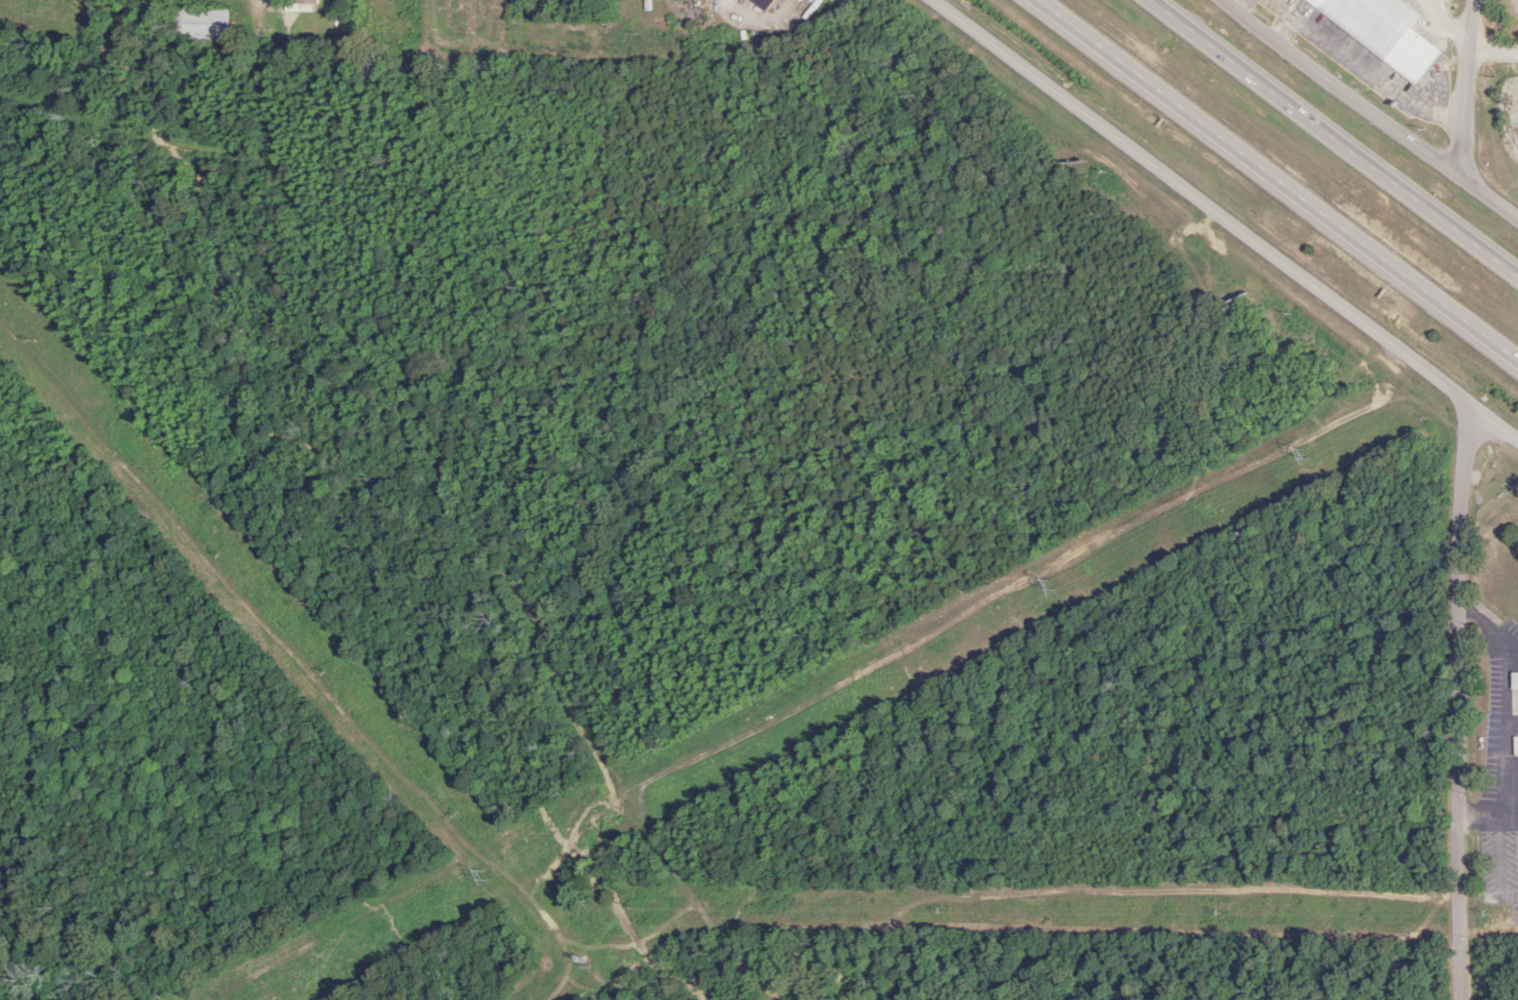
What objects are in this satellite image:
building: (305, 2)
building: (760, 3)
road: (763, 14)
building: (199, 23)
road: (1470, 28)
building: (1383, 32)
road: (1493, 57)
road: (1343, 97)
road: (1466, 123)
road: (1332, 141)
road: (1276, 183)
road: (1496, 206)
road: (1223, 222)
road: (472, 518)
building: (1514, 682)
road: (1455, 706)
building: (1515, 746)

